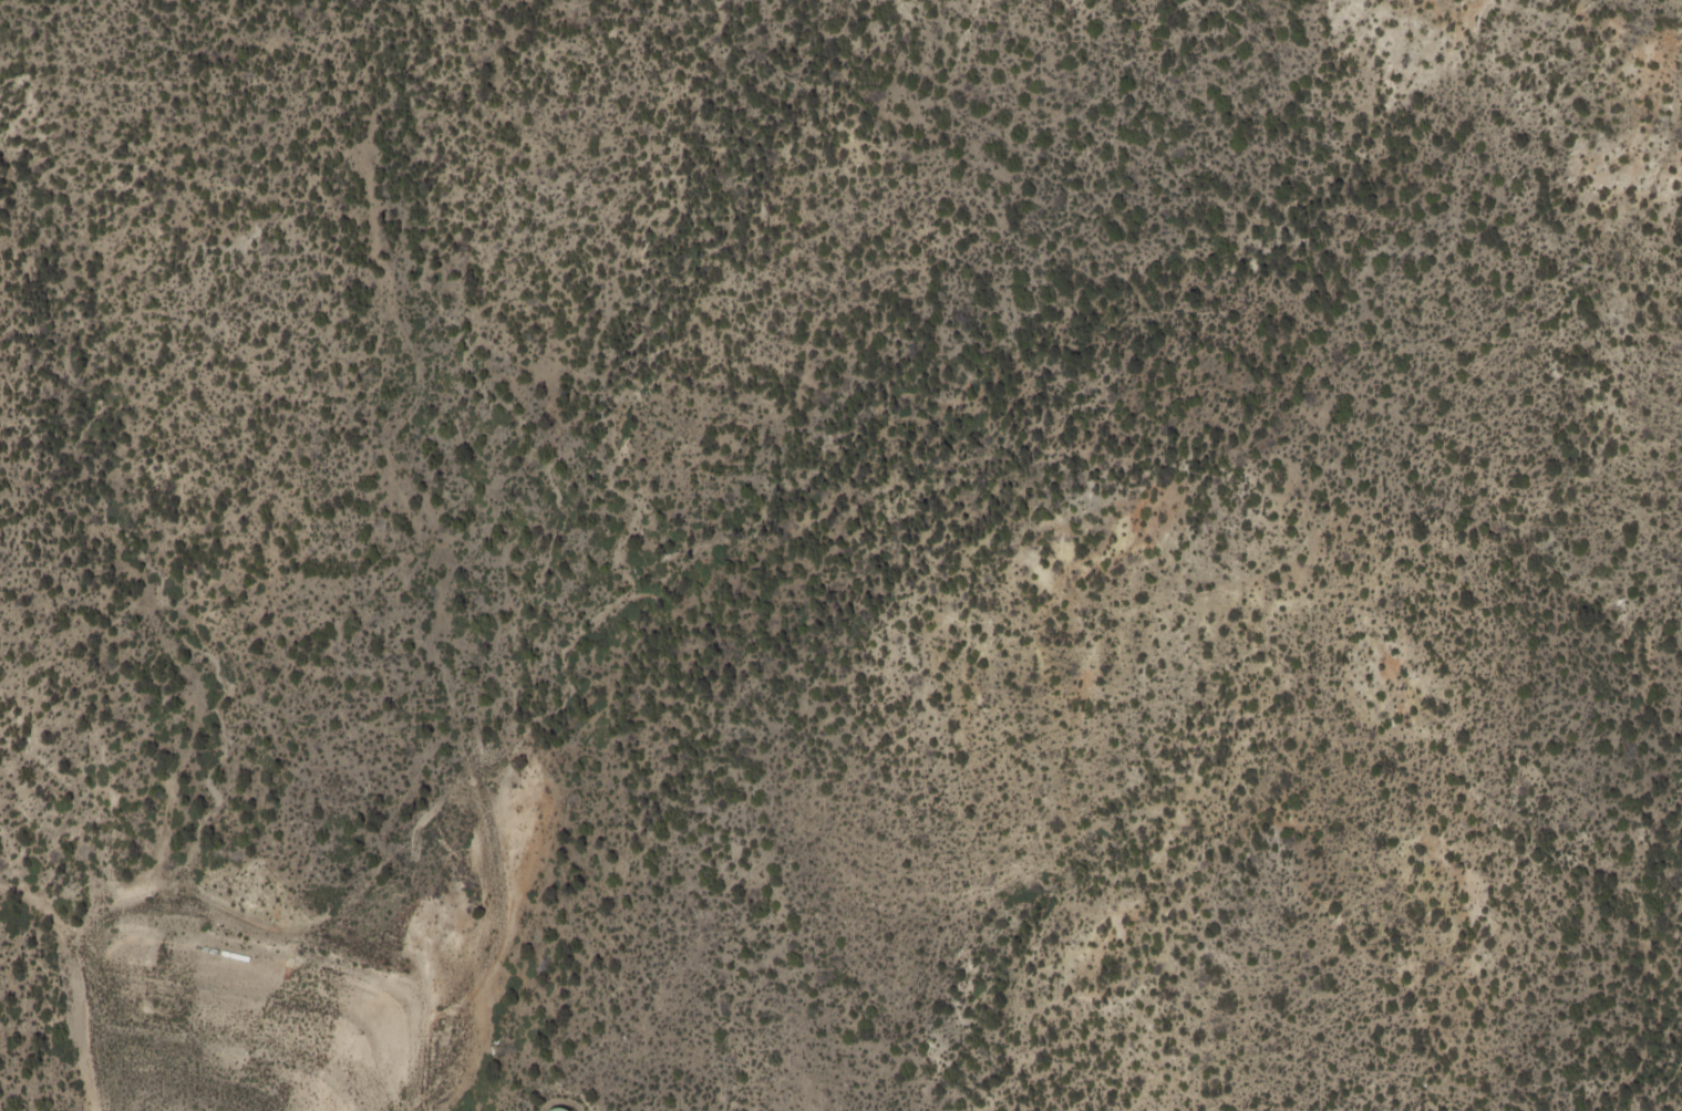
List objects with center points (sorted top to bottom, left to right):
building: (561, 1109)
storage tank: (561, 1109)

